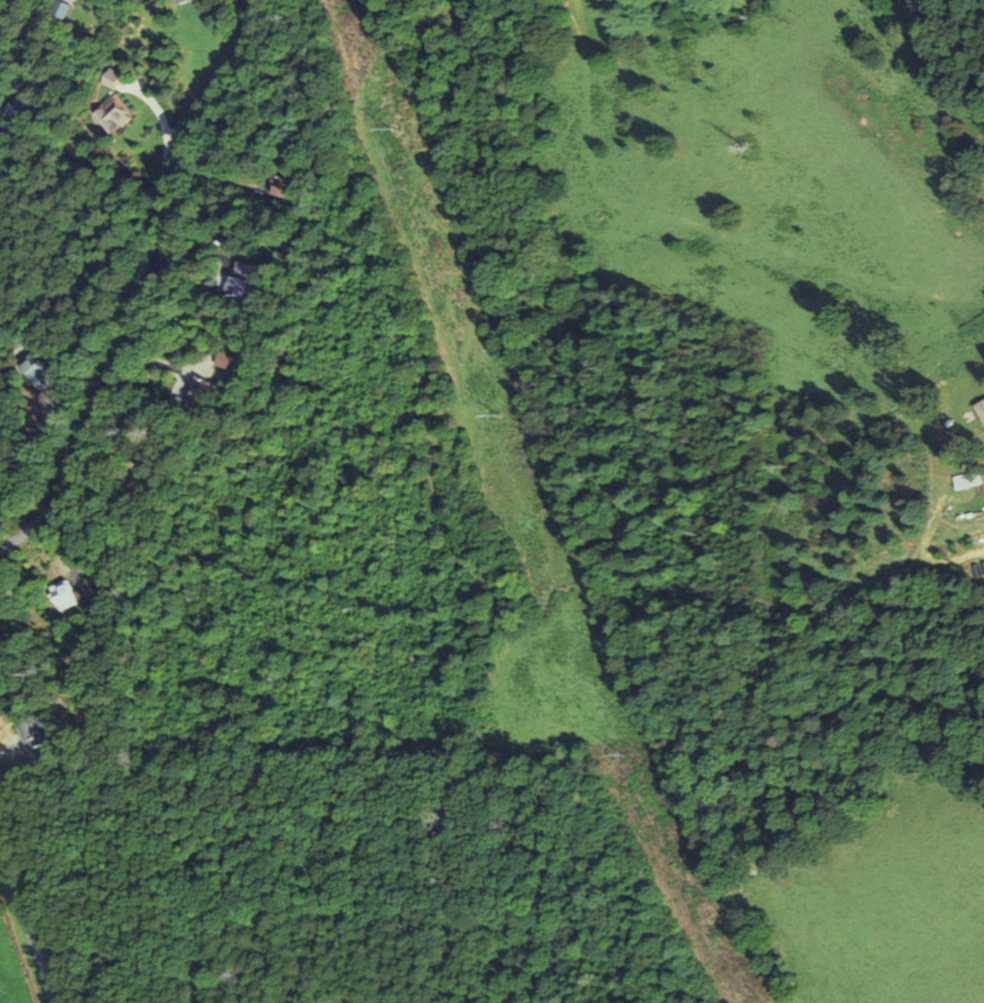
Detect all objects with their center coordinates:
building: (182, 1)
road: (8, 16)
building: (111, 114)
power tower: (391, 127)
building: (281, 186)
building: (238, 279)
road: (158, 290)
building: (980, 410)
power tower: (499, 417)
building: (966, 480)
building: (61, 595)
building: (0, 638)
building: (36, 737)
power tower: (627, 754)
road: (29, 930)

